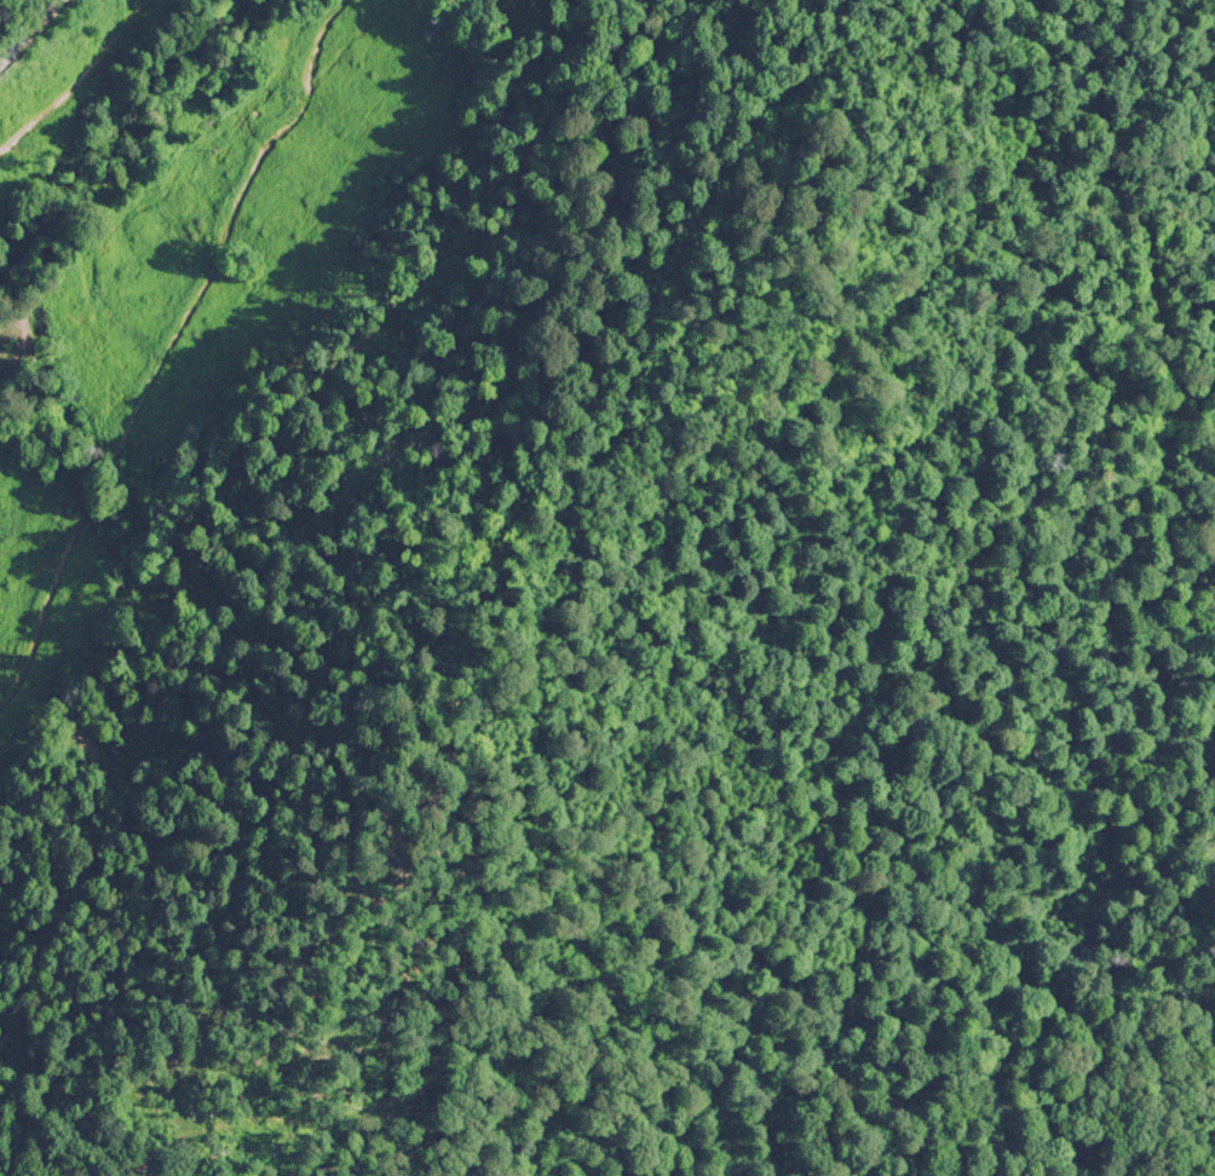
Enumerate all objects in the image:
road: (27, 29)

